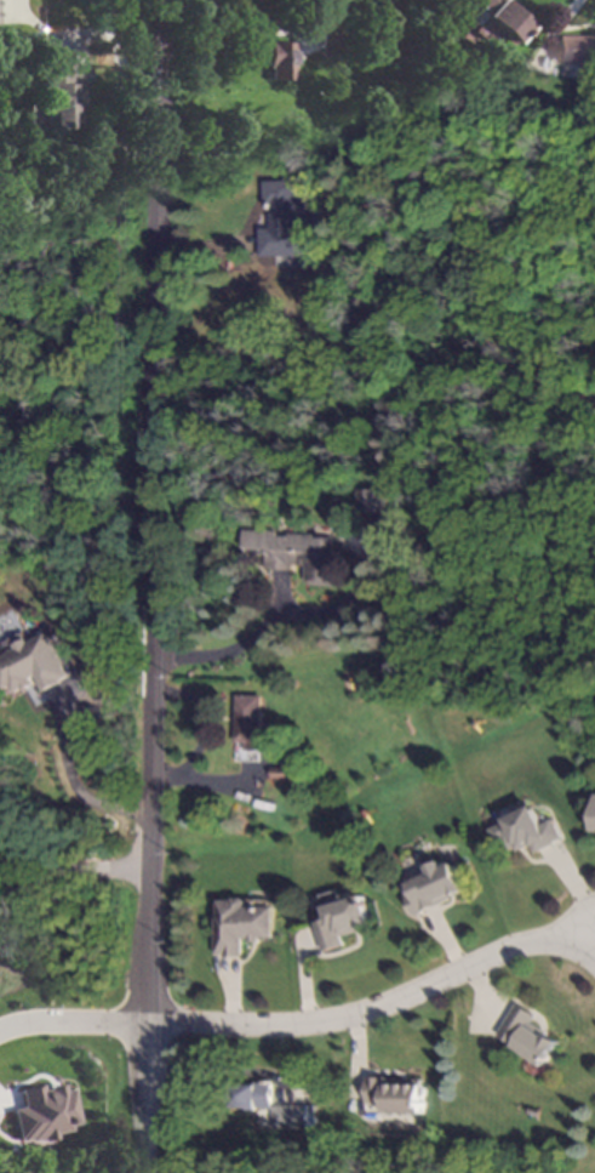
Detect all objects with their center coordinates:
building: (500, 17)
road: (234, 30)
building: (328, 38)
building: (577, 55)
building: (280, 61)
building: (62, 93)
building: (396, 110)
building: (286, 218)
park: (482, 429)
building: (370, 501)
building: (293, 553)
road: (153, 586)
road: (221, 655)
building: (35, 665)
building: (250, 730)
building: (281, 774)
road: (74, 785)
building: (527, 831)
building: (594, 831)
road: (74, 873)
building: (436, 887)
building: (345, 921)
building: (244, 926)
road: (378, 1012)
road: (71, 1024)
building: (525, 1035)
building: (393, 1095)
building: (264, 1103)
building: (39, 1112)

